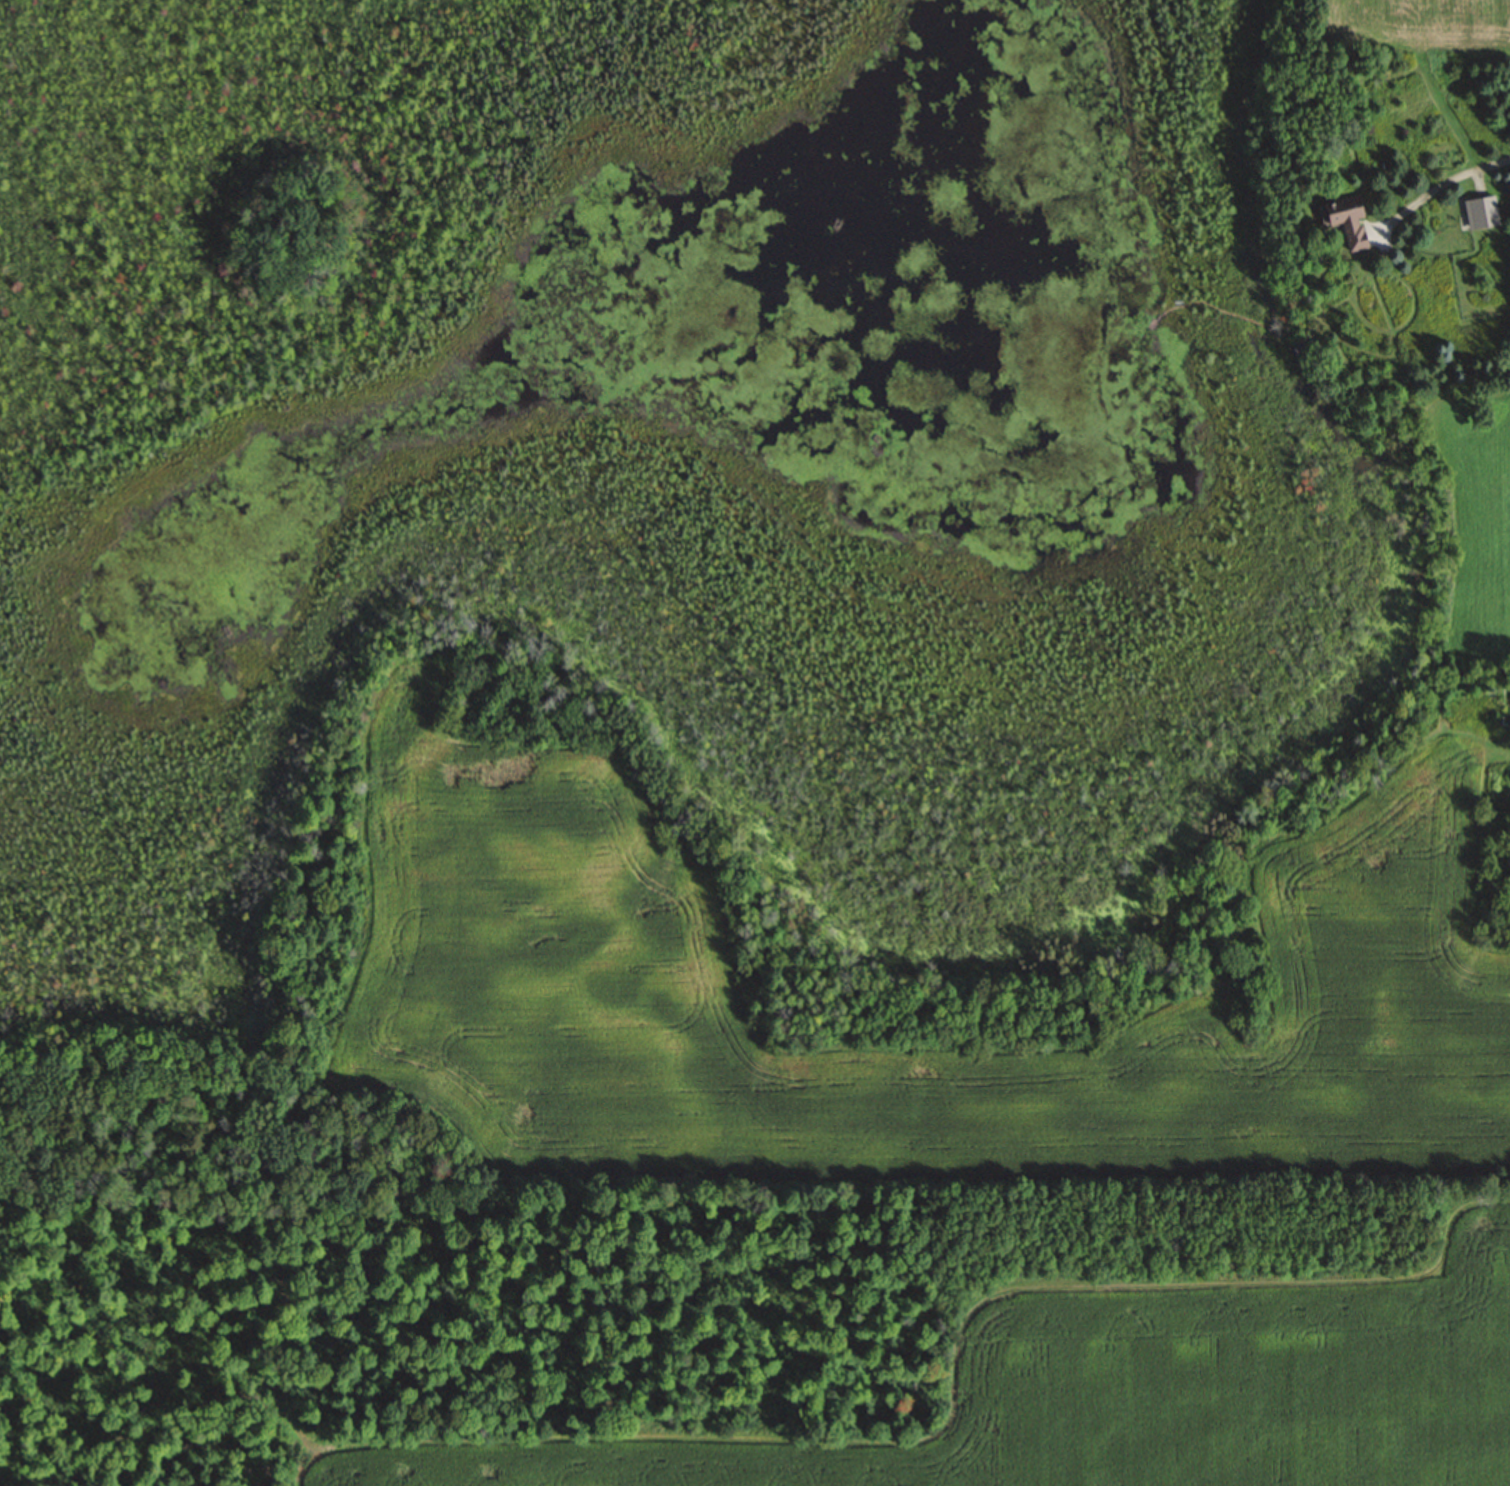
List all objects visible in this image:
building: (1480, 212)
building: (1346, 220)
building: (1386, 1439)

